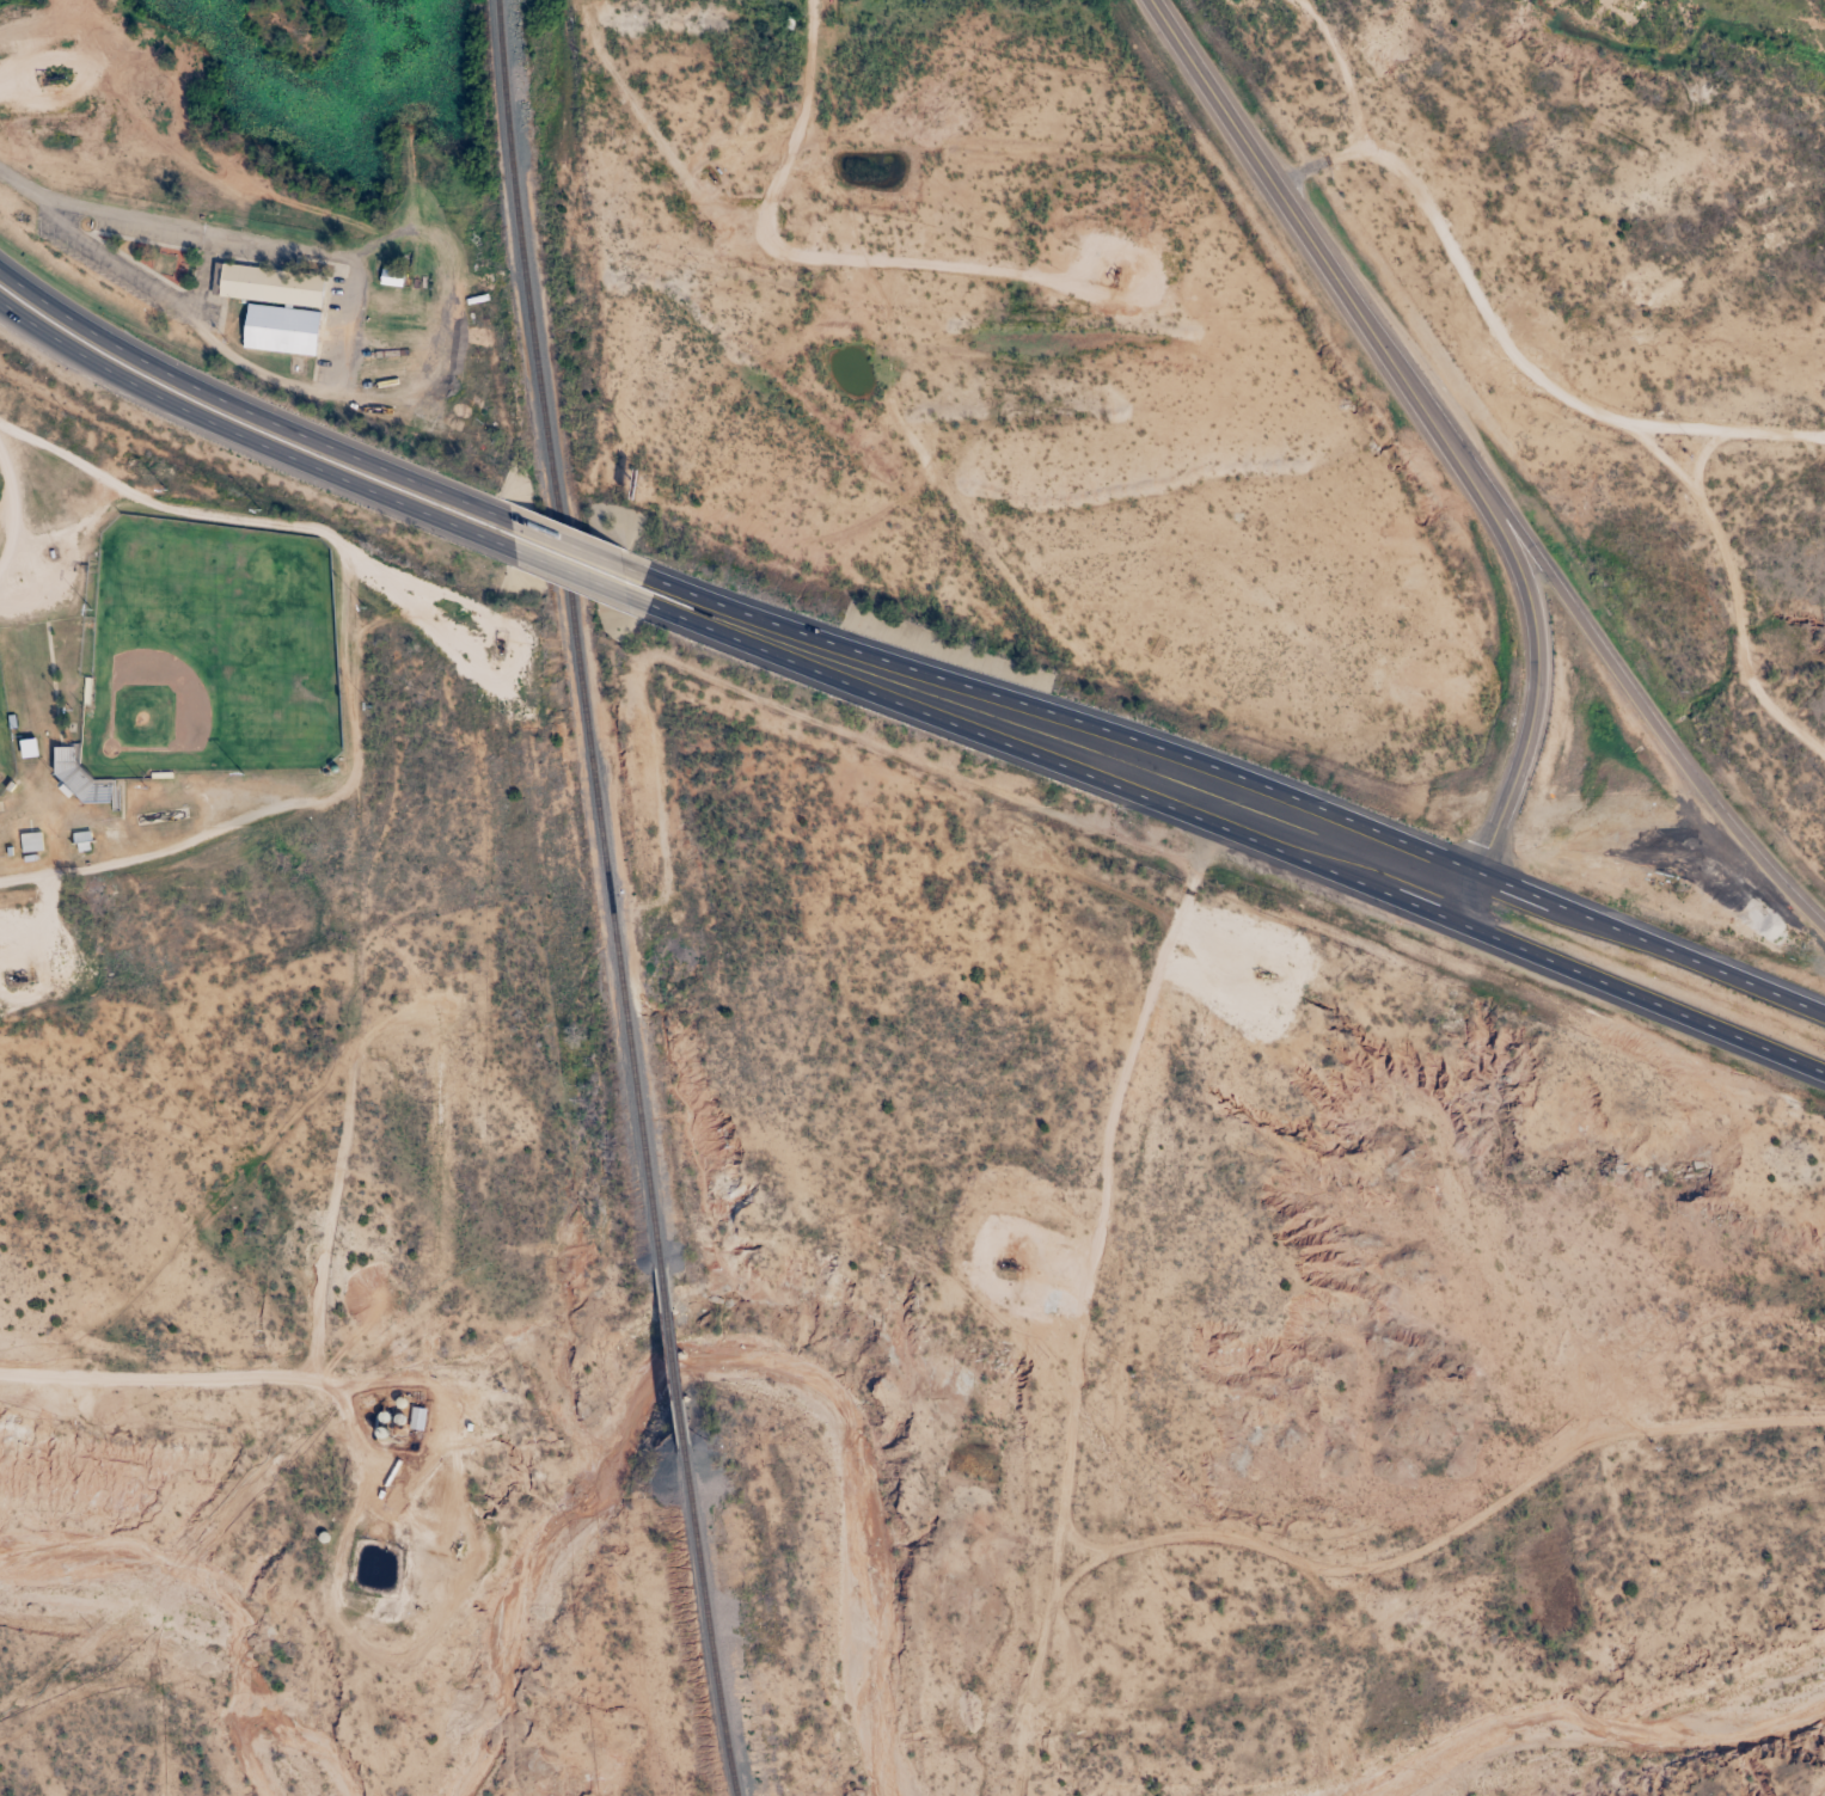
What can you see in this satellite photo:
road: (20, 194)
road: (829, 259)
road: (197, 281)
building: (386, 282)
building: (264, 294)
building: (472, 306)
building: (275, 338)
road: (344, 358)
road: (234, 406)
road: (1590, 407)
road: (1727, 428)
road: (1447, 435)
road: (246, 439)
road: (1704, 452)
road: (66, 462)
road: (2, 499)
road: (6, 514)
road: (278, 526)
road: (562, 540)
road: (5, 569)
road: (575, 576)
railway: (576, 631)
park: (204, 658)
park: (194, 711)
road: (1664, 736)
building: (26, 747)
road: (1184, 755)
park: (2, 761)
building: (75, 785)
road: (1152, 802)
building: (29, 842)
road: (188, 846)
road: (1771, 993)
road: (1743, 1038)
railway: (657, 1288)
railway: (667, 1361)
building: (415, 1420)
road: (1102, 1547)
railway: (702, 1602)
road: (1820, 1791)

